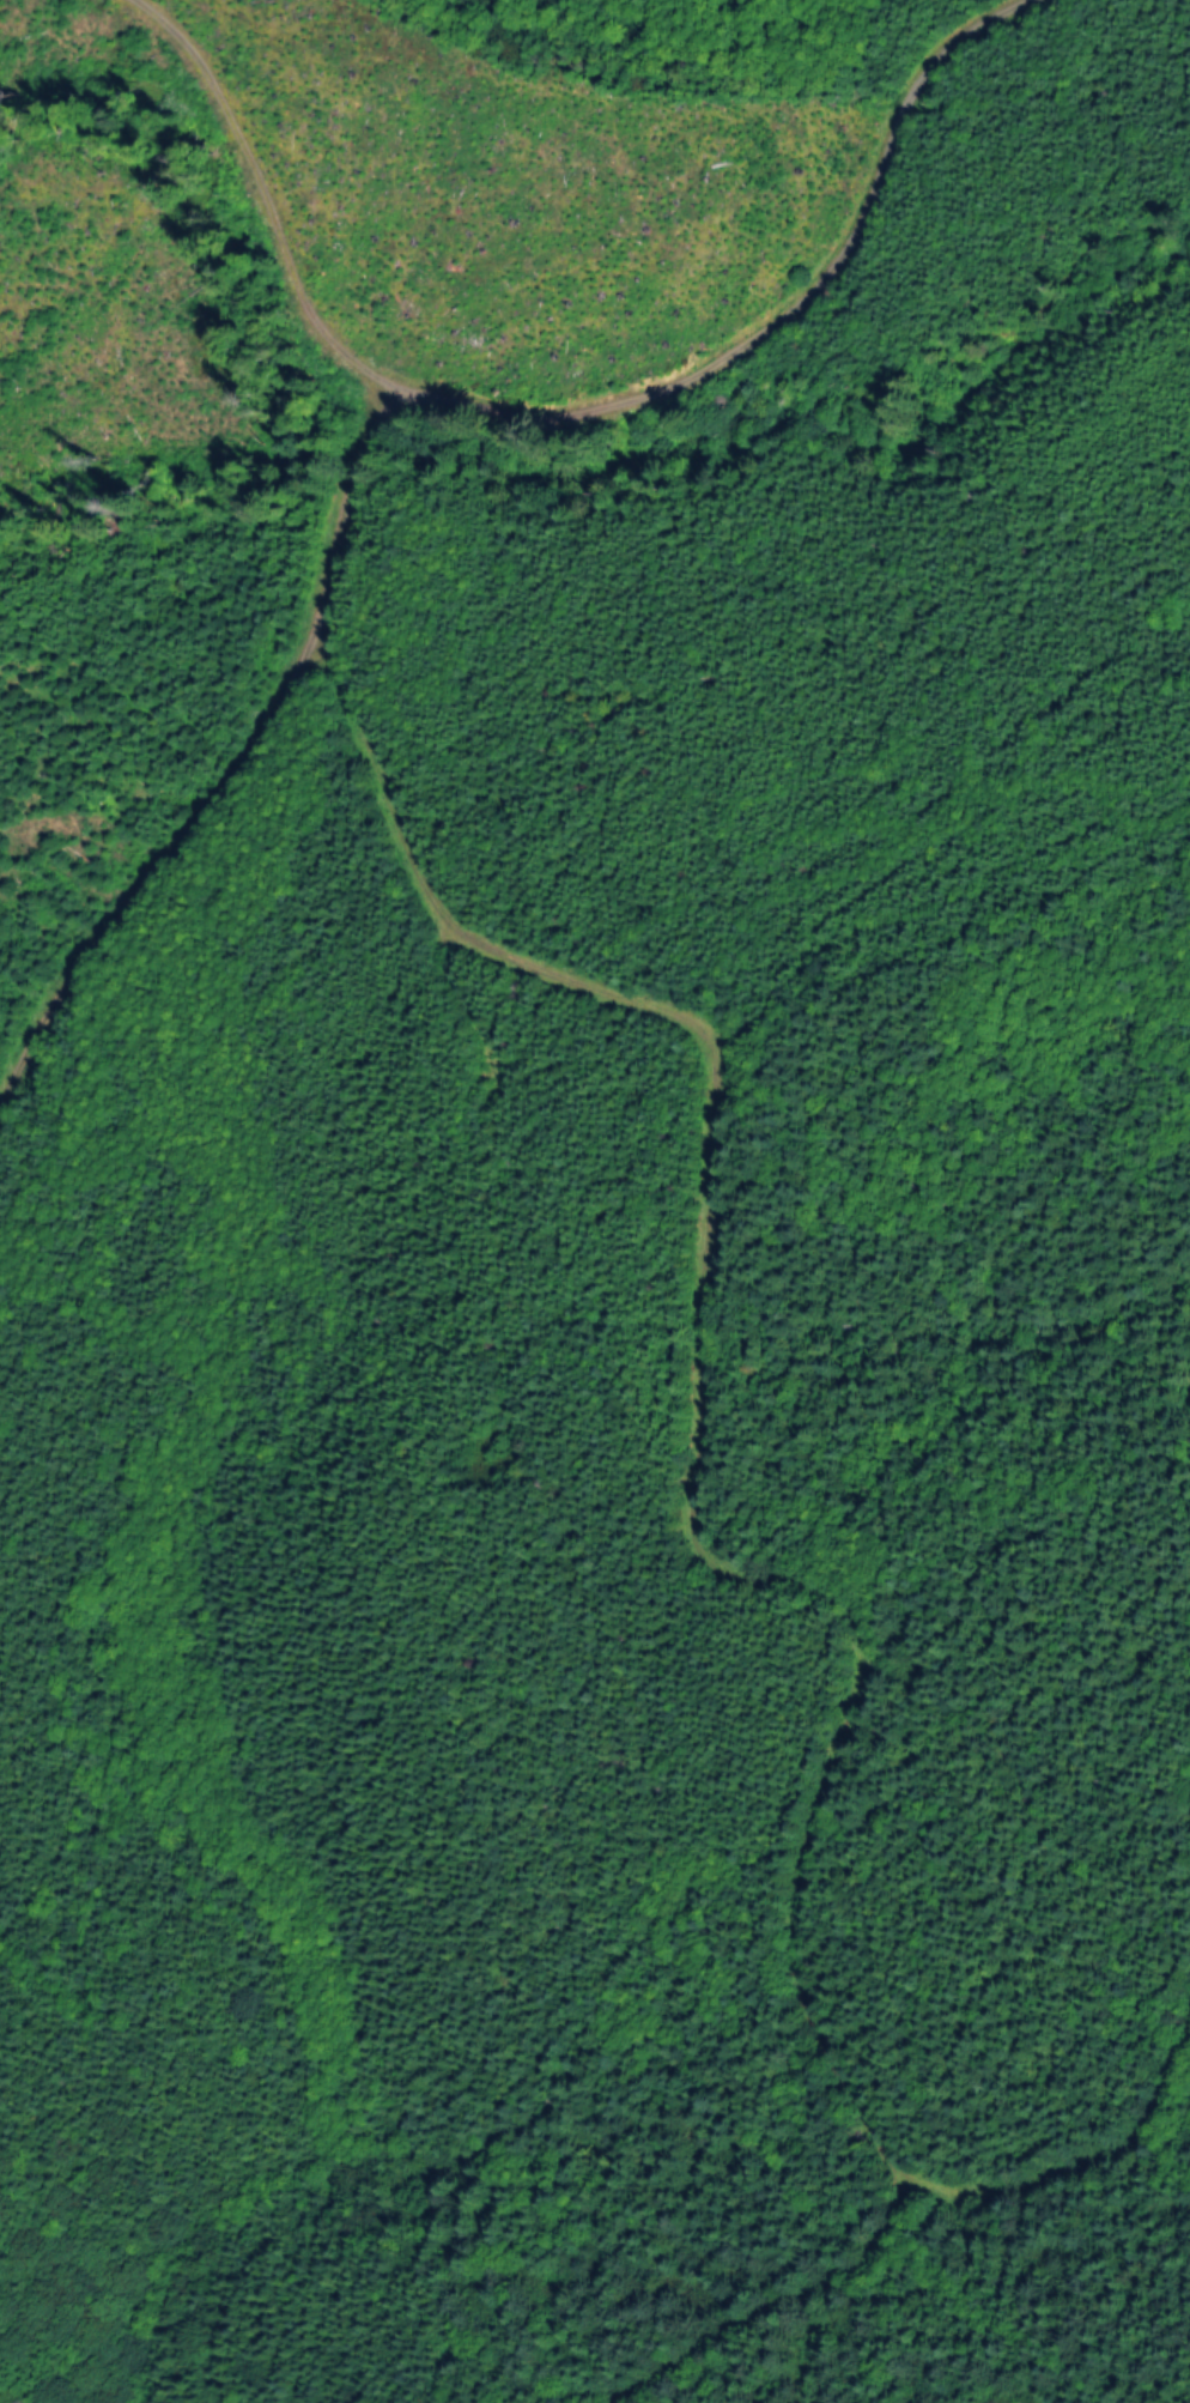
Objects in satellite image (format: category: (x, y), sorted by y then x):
road: (323, 193)
road: (636, 400)

